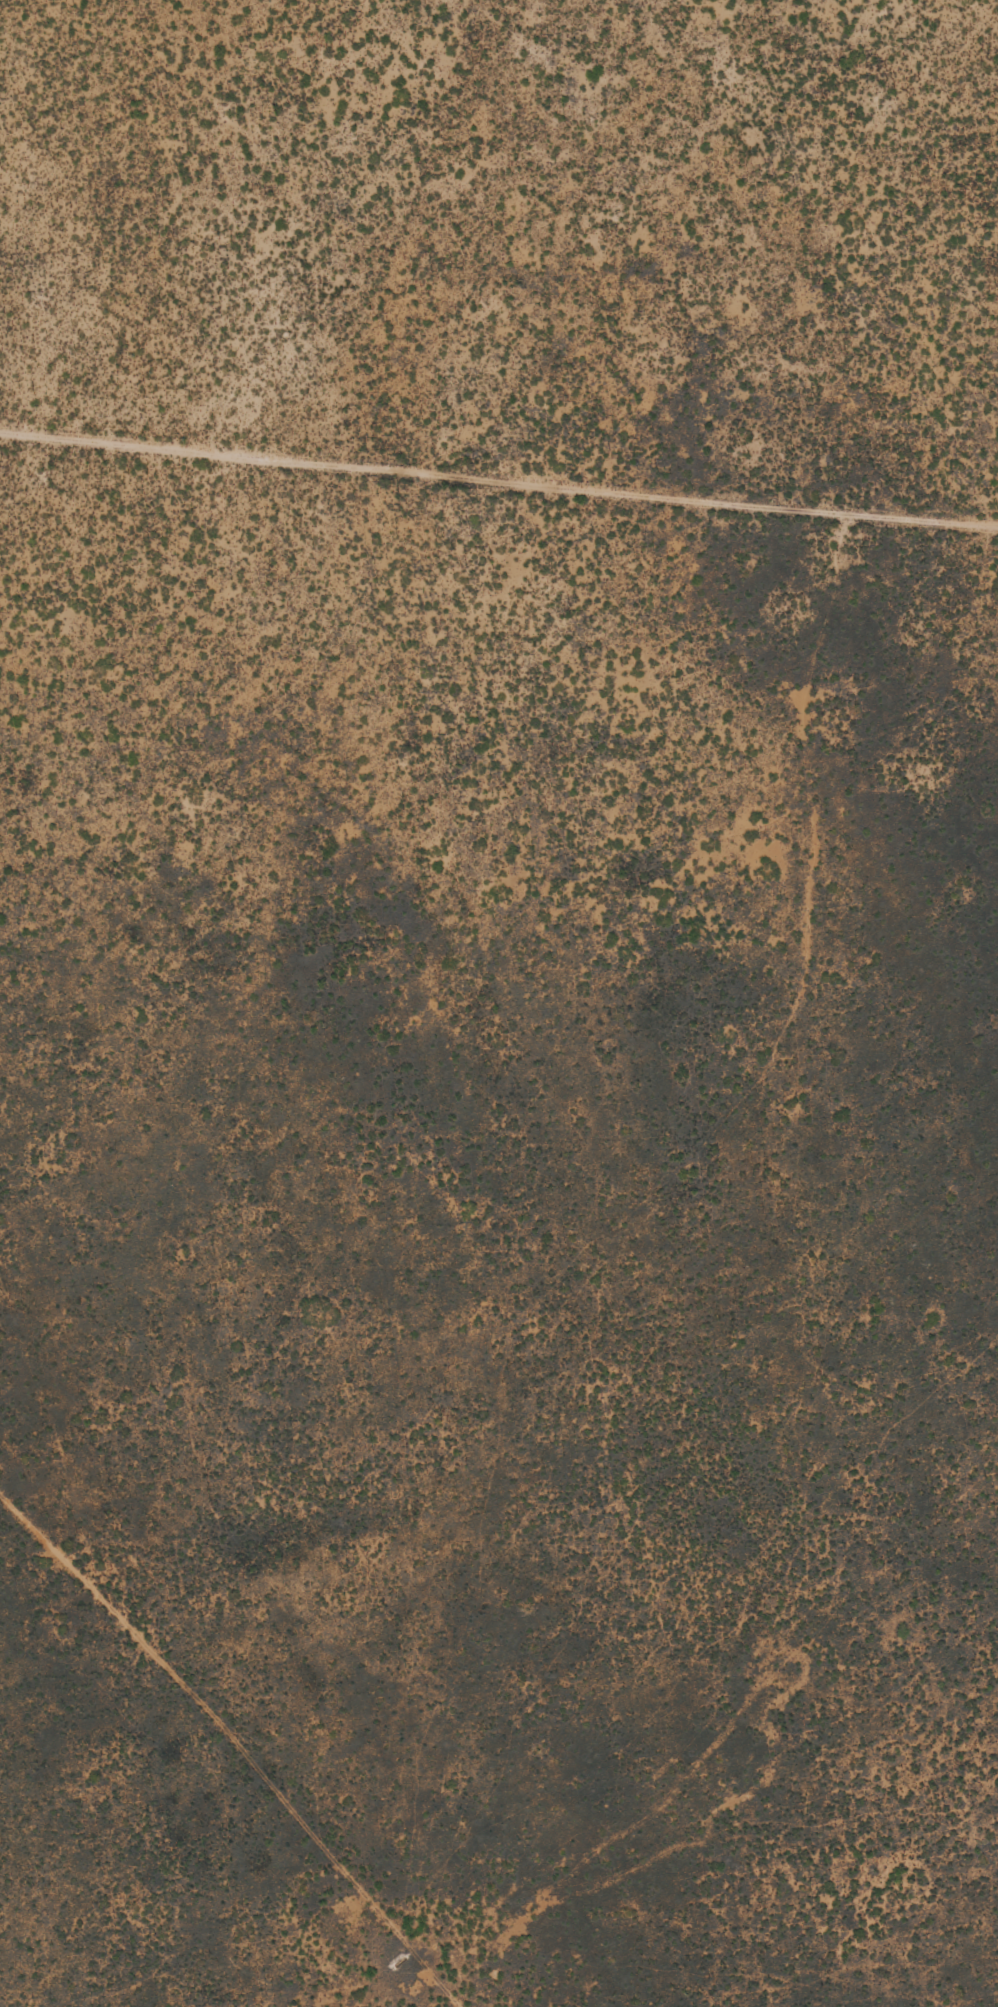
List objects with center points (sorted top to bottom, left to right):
road: (499, 585)

